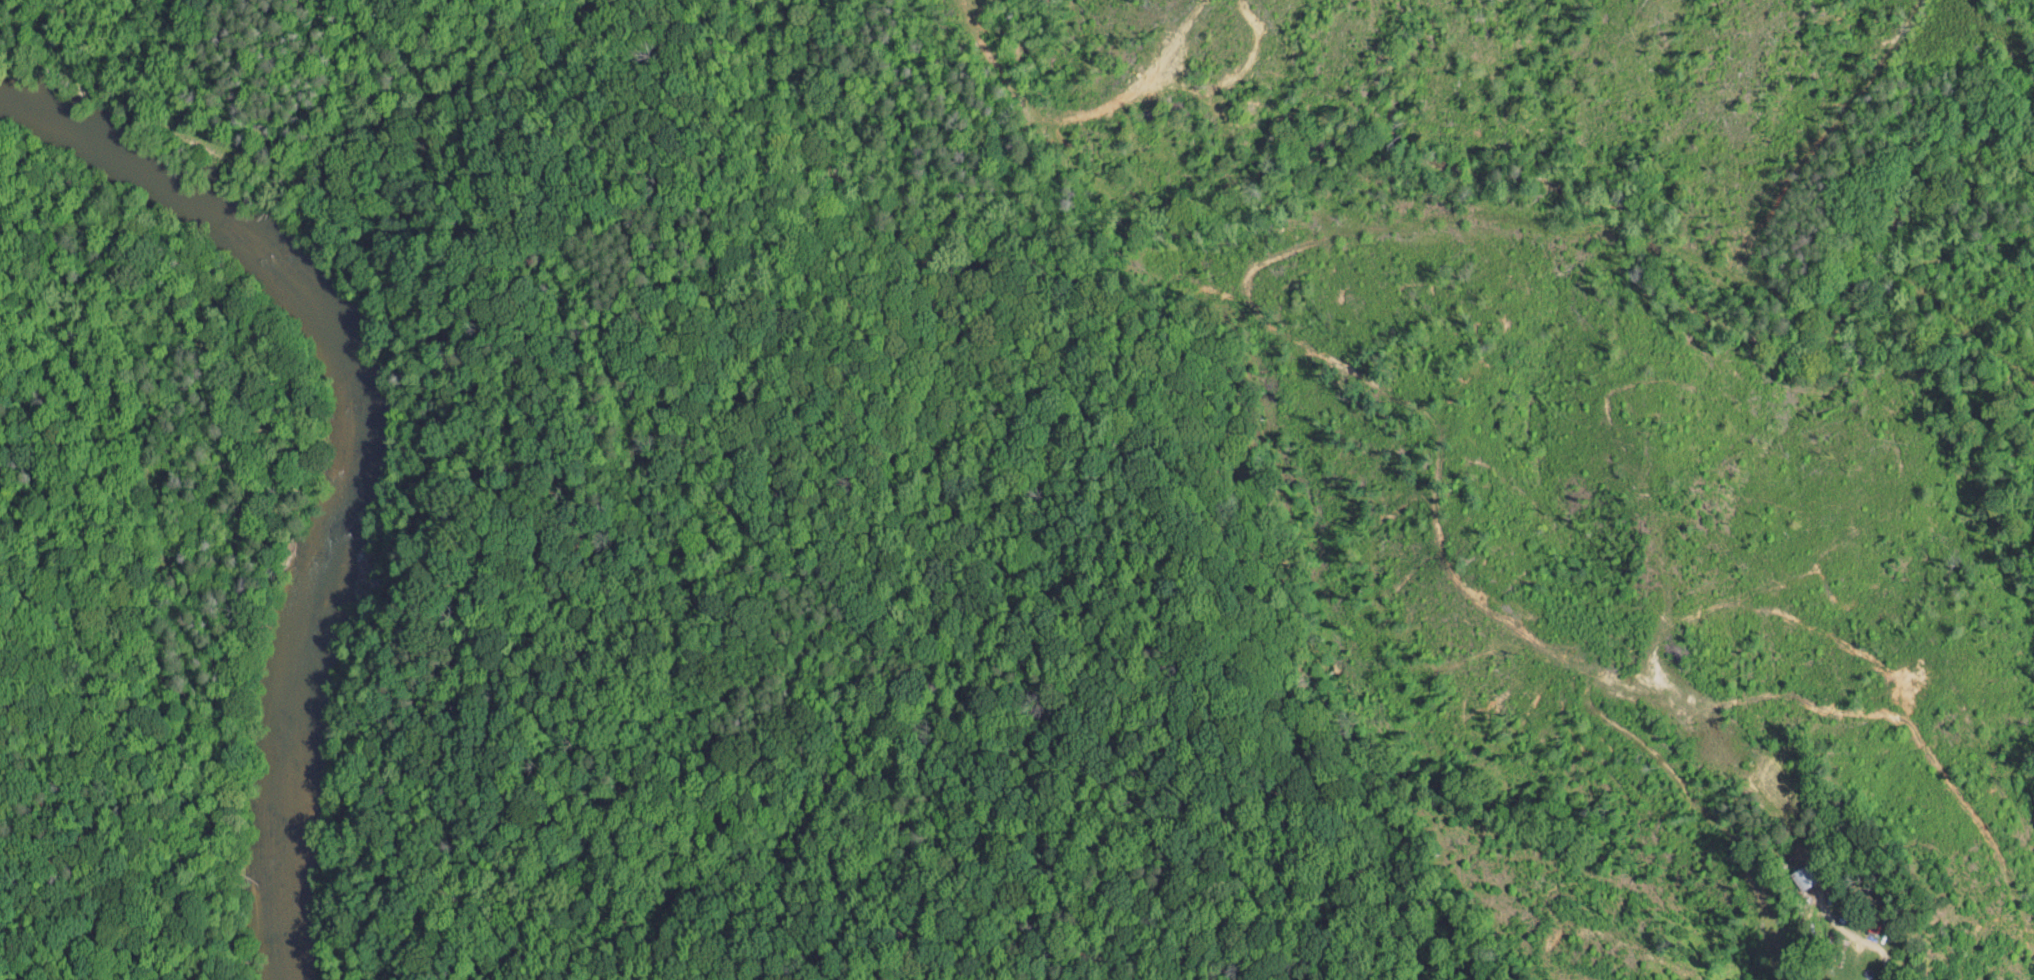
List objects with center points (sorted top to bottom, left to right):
river: (135, 151)
river: (346, 457)
river: (277, 836)
building: (1786, 874)

